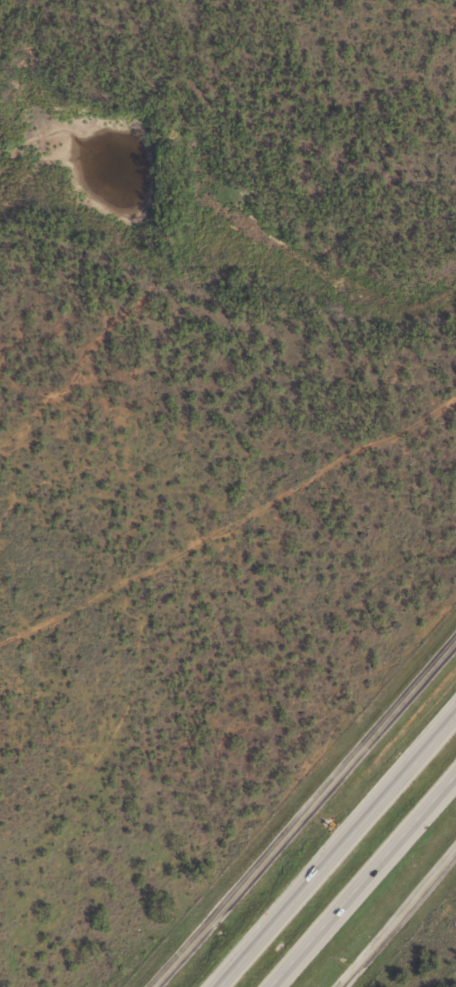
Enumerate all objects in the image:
road: (303, 811)
road: (334, 848)
road: (362, 880)
road: (397, 918)

